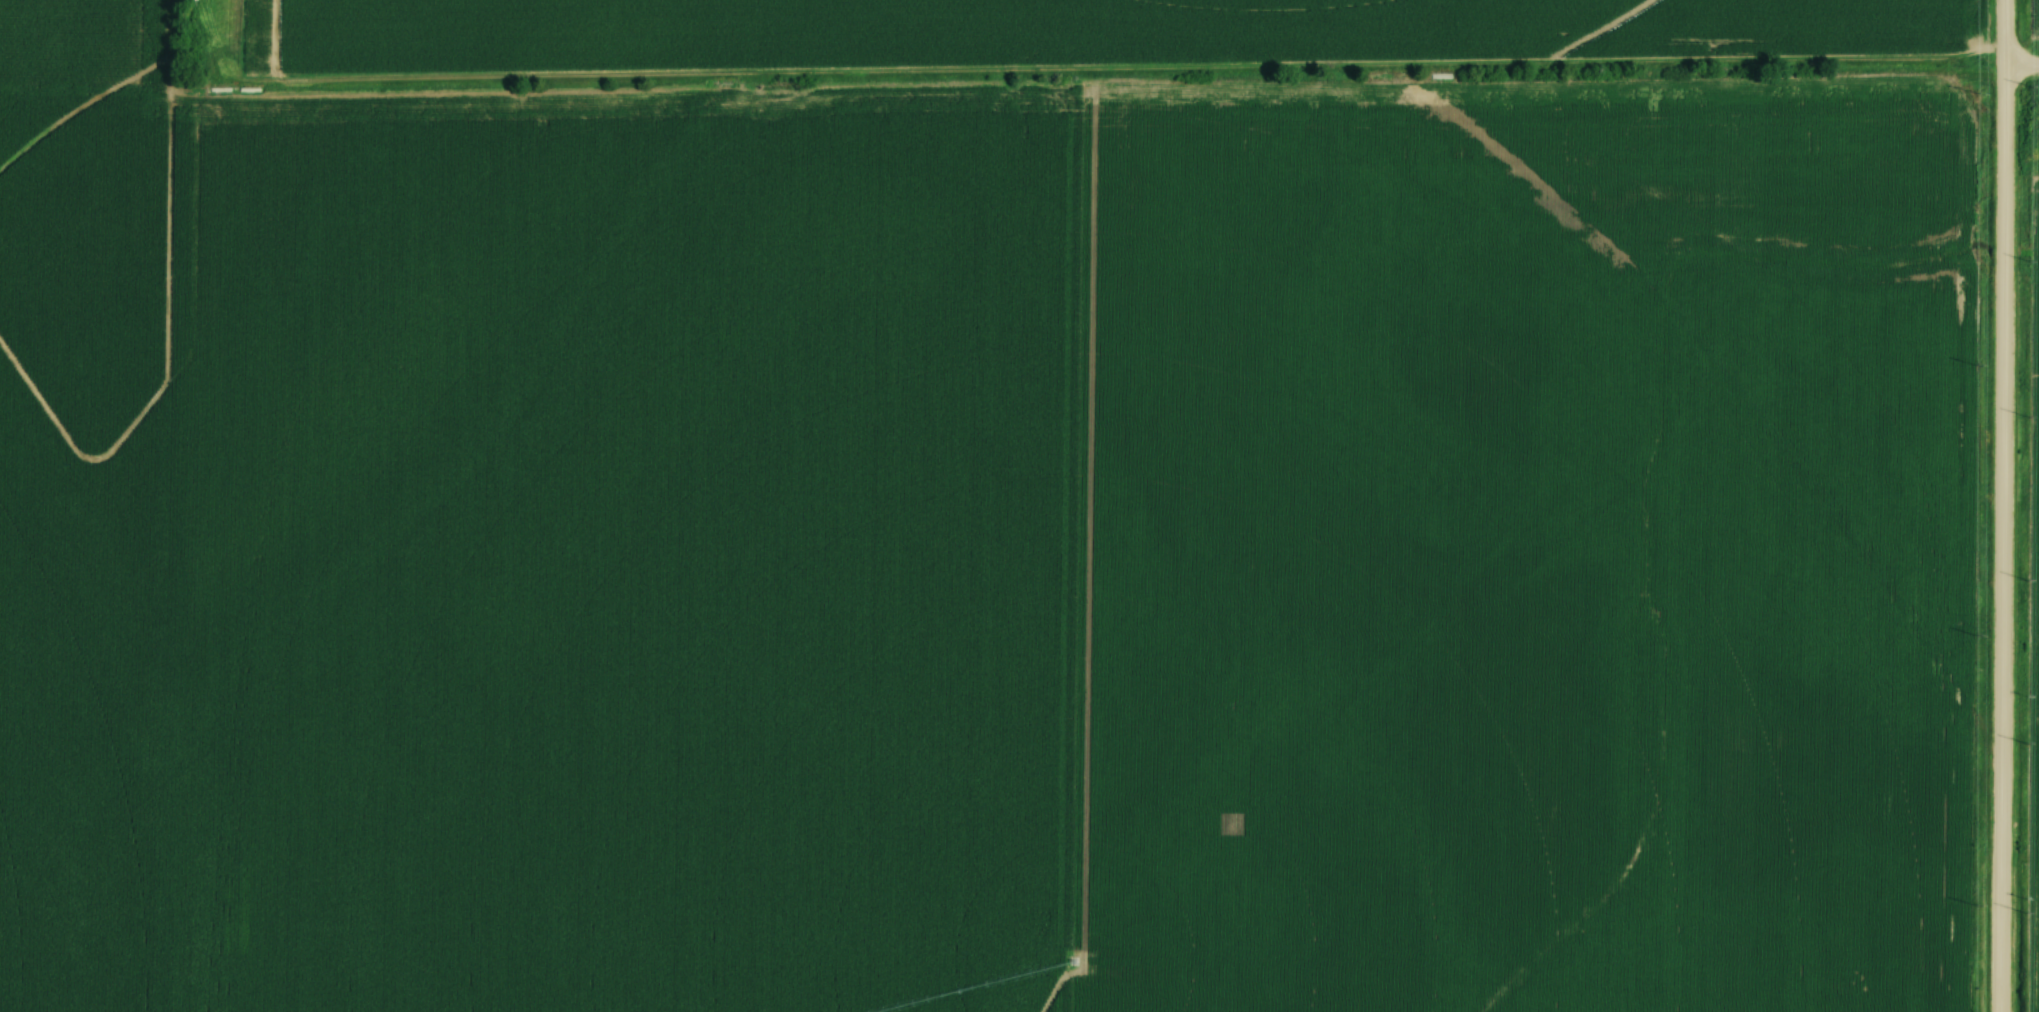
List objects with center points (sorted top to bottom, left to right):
road: (2024, 55)
road: (2008, 506)

